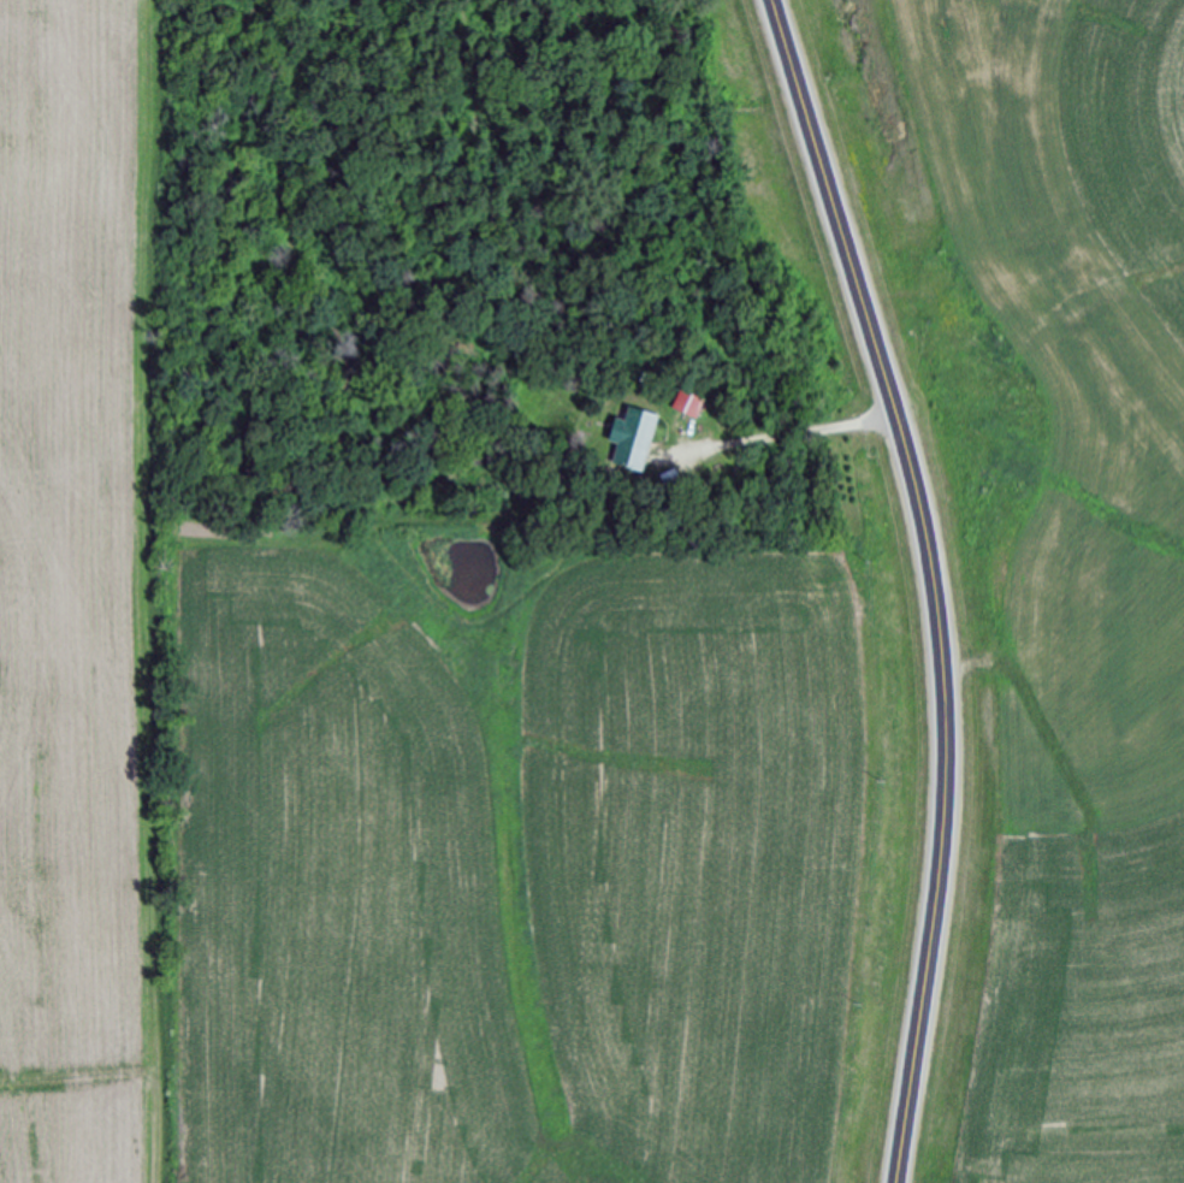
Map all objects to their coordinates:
road: (777, 437)
building: (638, 439)
road: (933, 582)

